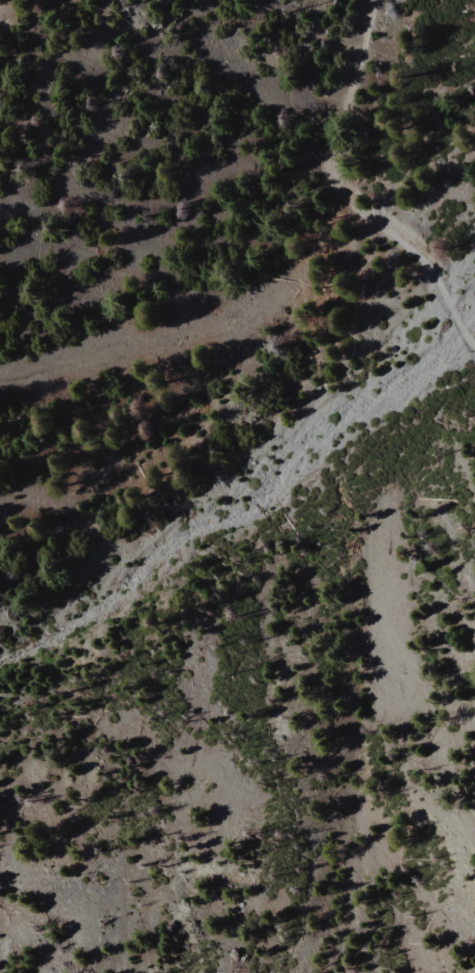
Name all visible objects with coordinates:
road: (342, 195)

